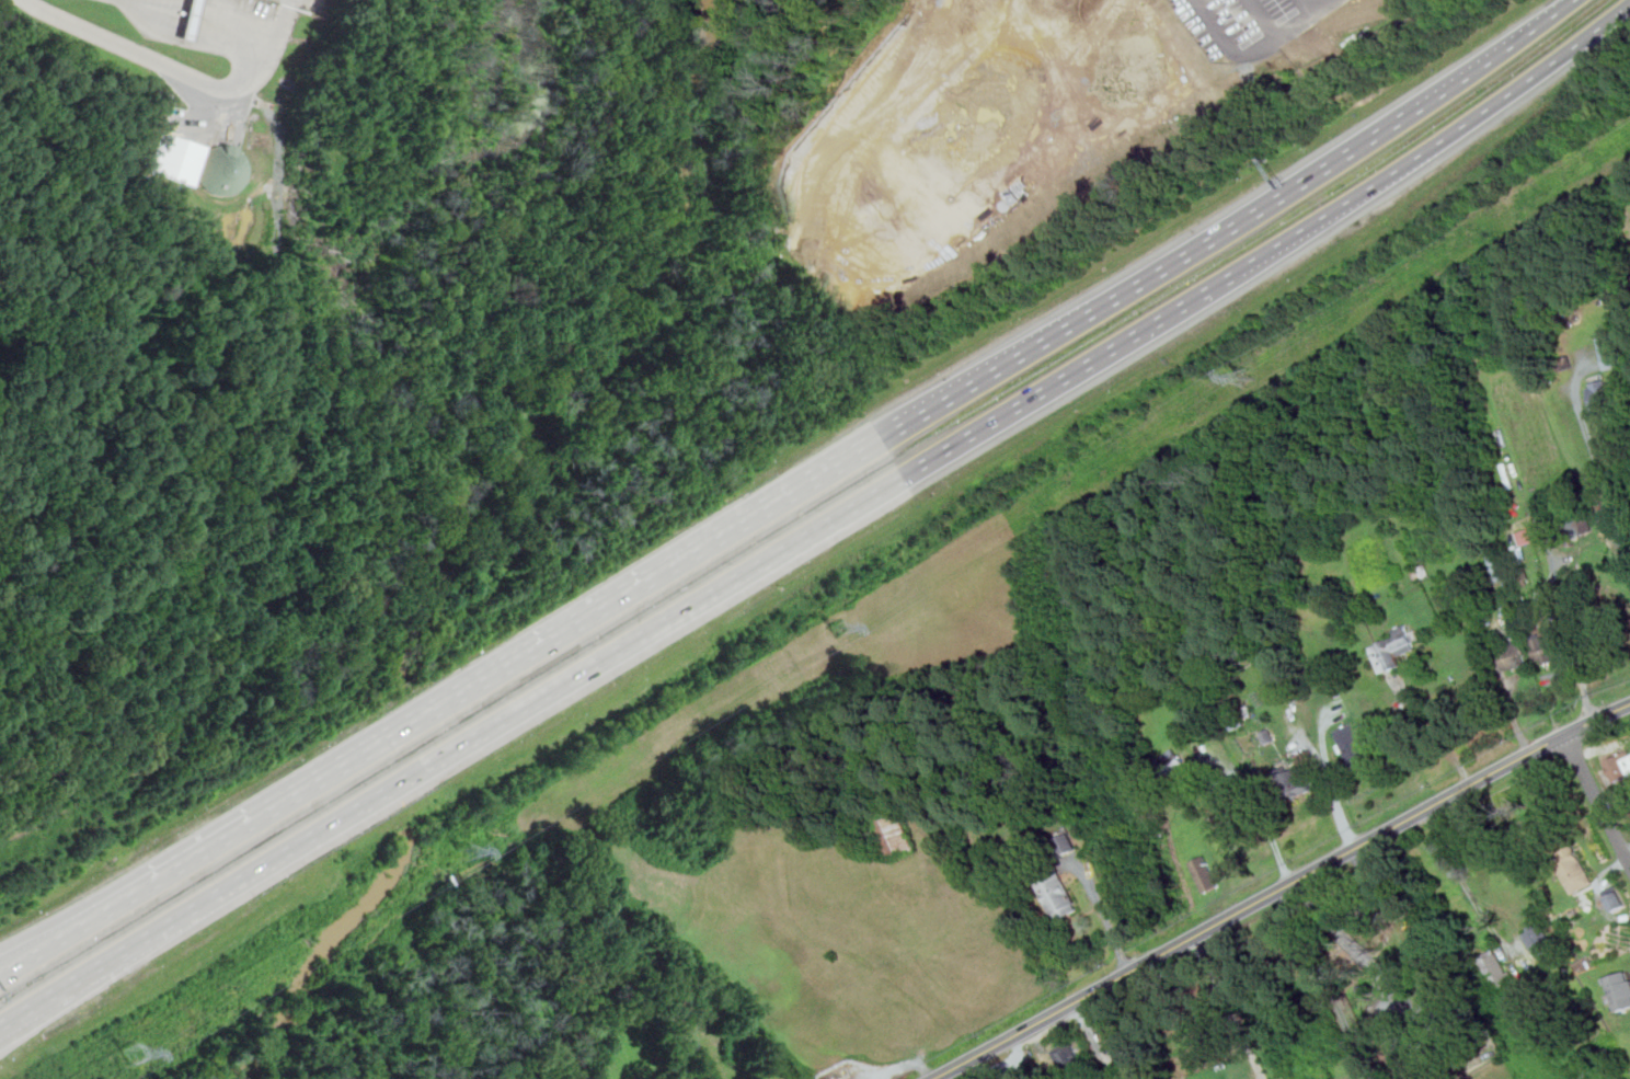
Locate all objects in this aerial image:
road: (163, 5)
road: (1308, 7)
road: (192, 13)
building: (191, 19)
road: (1264, 20)
road: (276, 22)
road: (231, 30)
road: (1508, 46)
road: (1258, 51)
road: (151, 59)
road: (278, 129)
road: (1435, 144)
building: (172, 159)
road: (1186, 254)
building: (1612, 351)
road: (1069, 375)
power tower: (1247, 376)
building: (1609, 393)
road: (903, 423)
road: (1588, 433)
building: (1581, 525)
road: (1543, 533)
building: (1526, 536)
building: (1497, 566)
power tower: (838, 628)
building: (1393, 647)
building: (1545, 648)
building: (1514, 654)
road: (495, 670)
building: (1186, 702)
road: (1434, 727)
road: (473, 736)
road: (1324, 744)
building: (1356, 745)
building: (1171, 760)
building: (1620, 768)
building: (1216, 781)
building: (1293, 781)
road: (1332, 789)
road: (1253, 793)
road: (1597, 795)
building: (1222, 808)
building: (898, 835)
building: (1067, 842)
power tower: (469, 853)
building: (1574, 870)
building: (1205, 873)
road: (1465, 883)
road: (1281, 888)
building: (1058, 895)
building: (1617, 900)
road: (1107, 918)
road: (55, 929)
road: (55, 938)
building: (1539, 939)
building: (1497, 968)
building: (1619, 989)
road: (1229, 1007)
road: (22, 1011)
building: (1117, 1034)
power tower: (137, 1056)
building: (1069, 1057)
building: (1401, 1058)
building: (1024, 1072)

